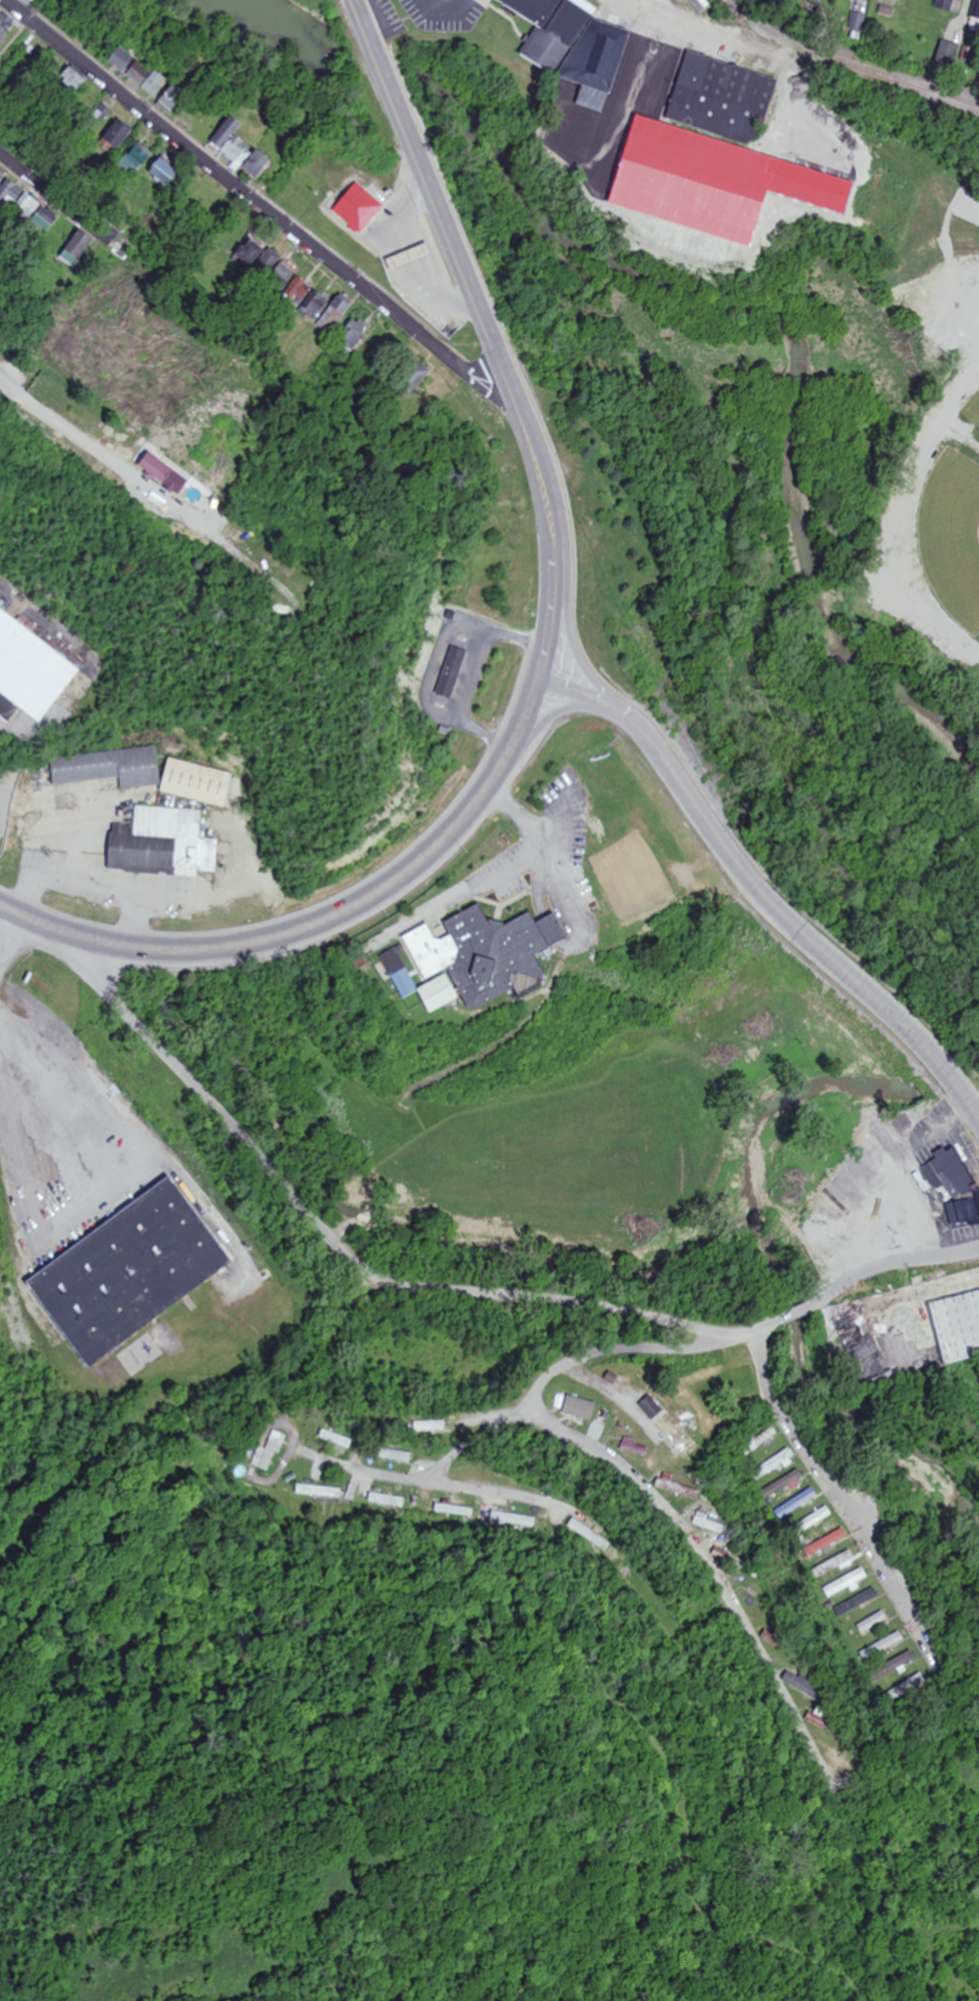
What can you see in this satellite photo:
building: (549, 29)
road: (16, 40)
railway: (847, 63)
building: (723, 99)
road: (54, 194)
building: (353, 204)
road: (264, 209)
building: (403, 255)
gas station: (403, 255)
park: (942, 265)
road: (467, 284)
road: (10, 385)
road: (957, 387)
park: (971, 413)
road: (107, 458)
park: (956, 523)
park: (952, 538)
building: (0, 597)
road: (549, 629)
road: (573, 644)
building: (30, 668)
building: (451, 674)
road: (565, 690)
road: (600, 702)
road: (528, 706)
road: (554, 710)
road: (618, 712)
building: (110, 767)
building: (199, 782)
building: (164, 843)
road: (767, 901)
road: (8, 928)
road: (297, 930)
building: (490, 953)
building: (398, 958)
building: (411, 981)
building: (441, 993)
road: (943, 1069)
road: (966, 1099)
road: (33, 1104)
road: (347, 1264)
road: (887, 1266)
building: (132, 1272)
road: (796, 1313)
building: (913, 1328)
road: (479, 1438)
road: (406, 1479)
road: (640, 1486)
road: (844, 1493)
road: (524, 1677)

